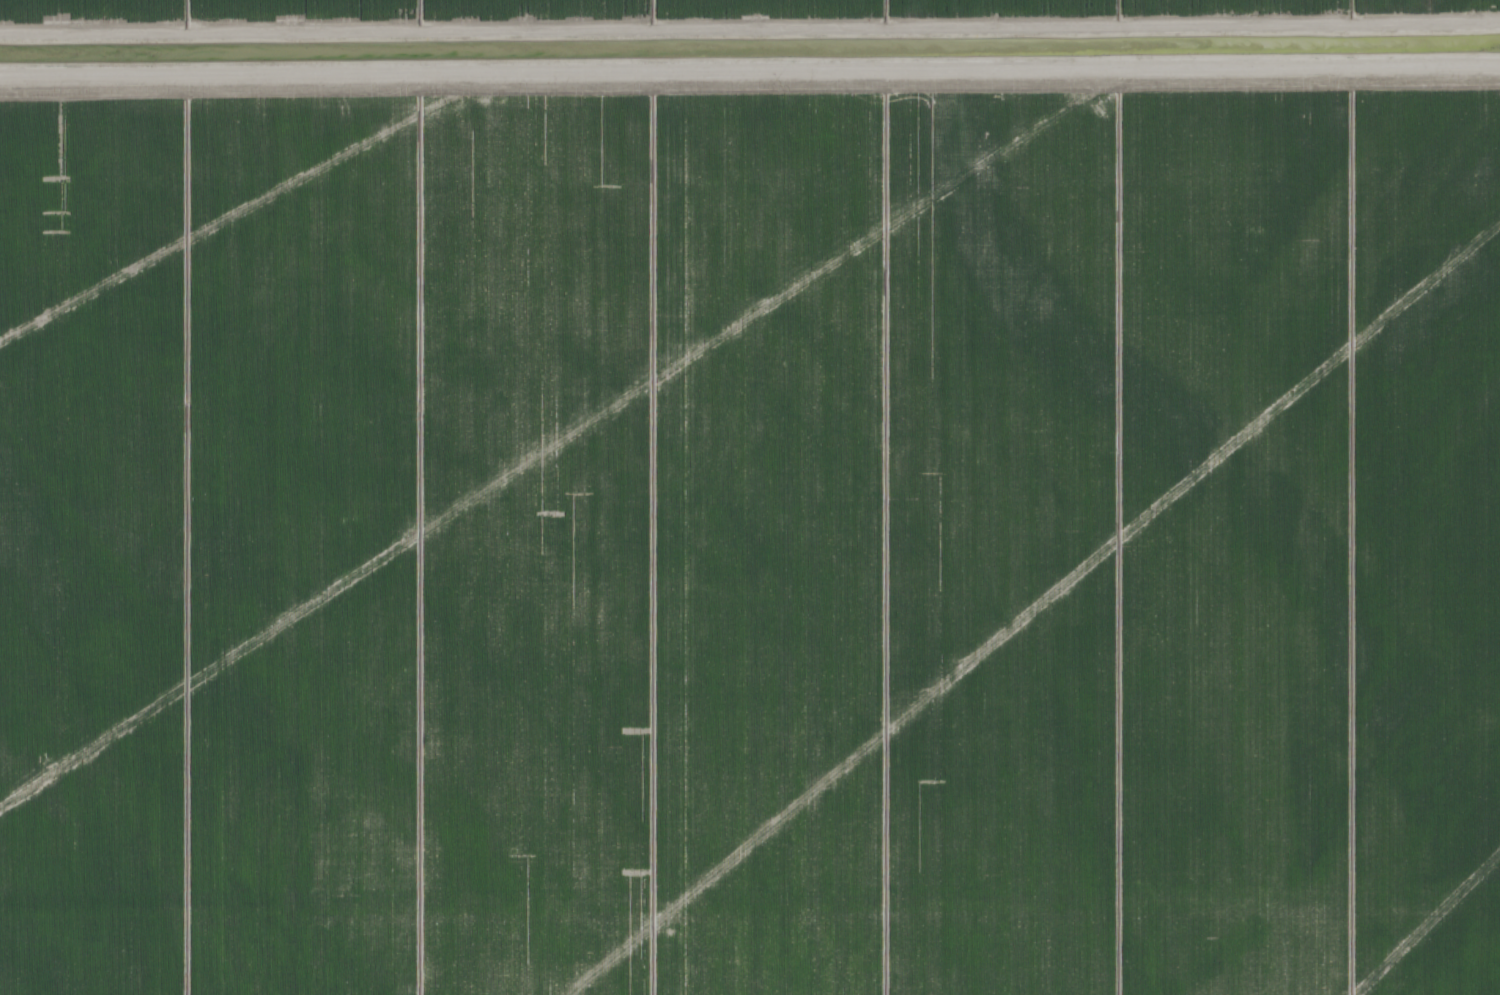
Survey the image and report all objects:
road: (750, 71)

